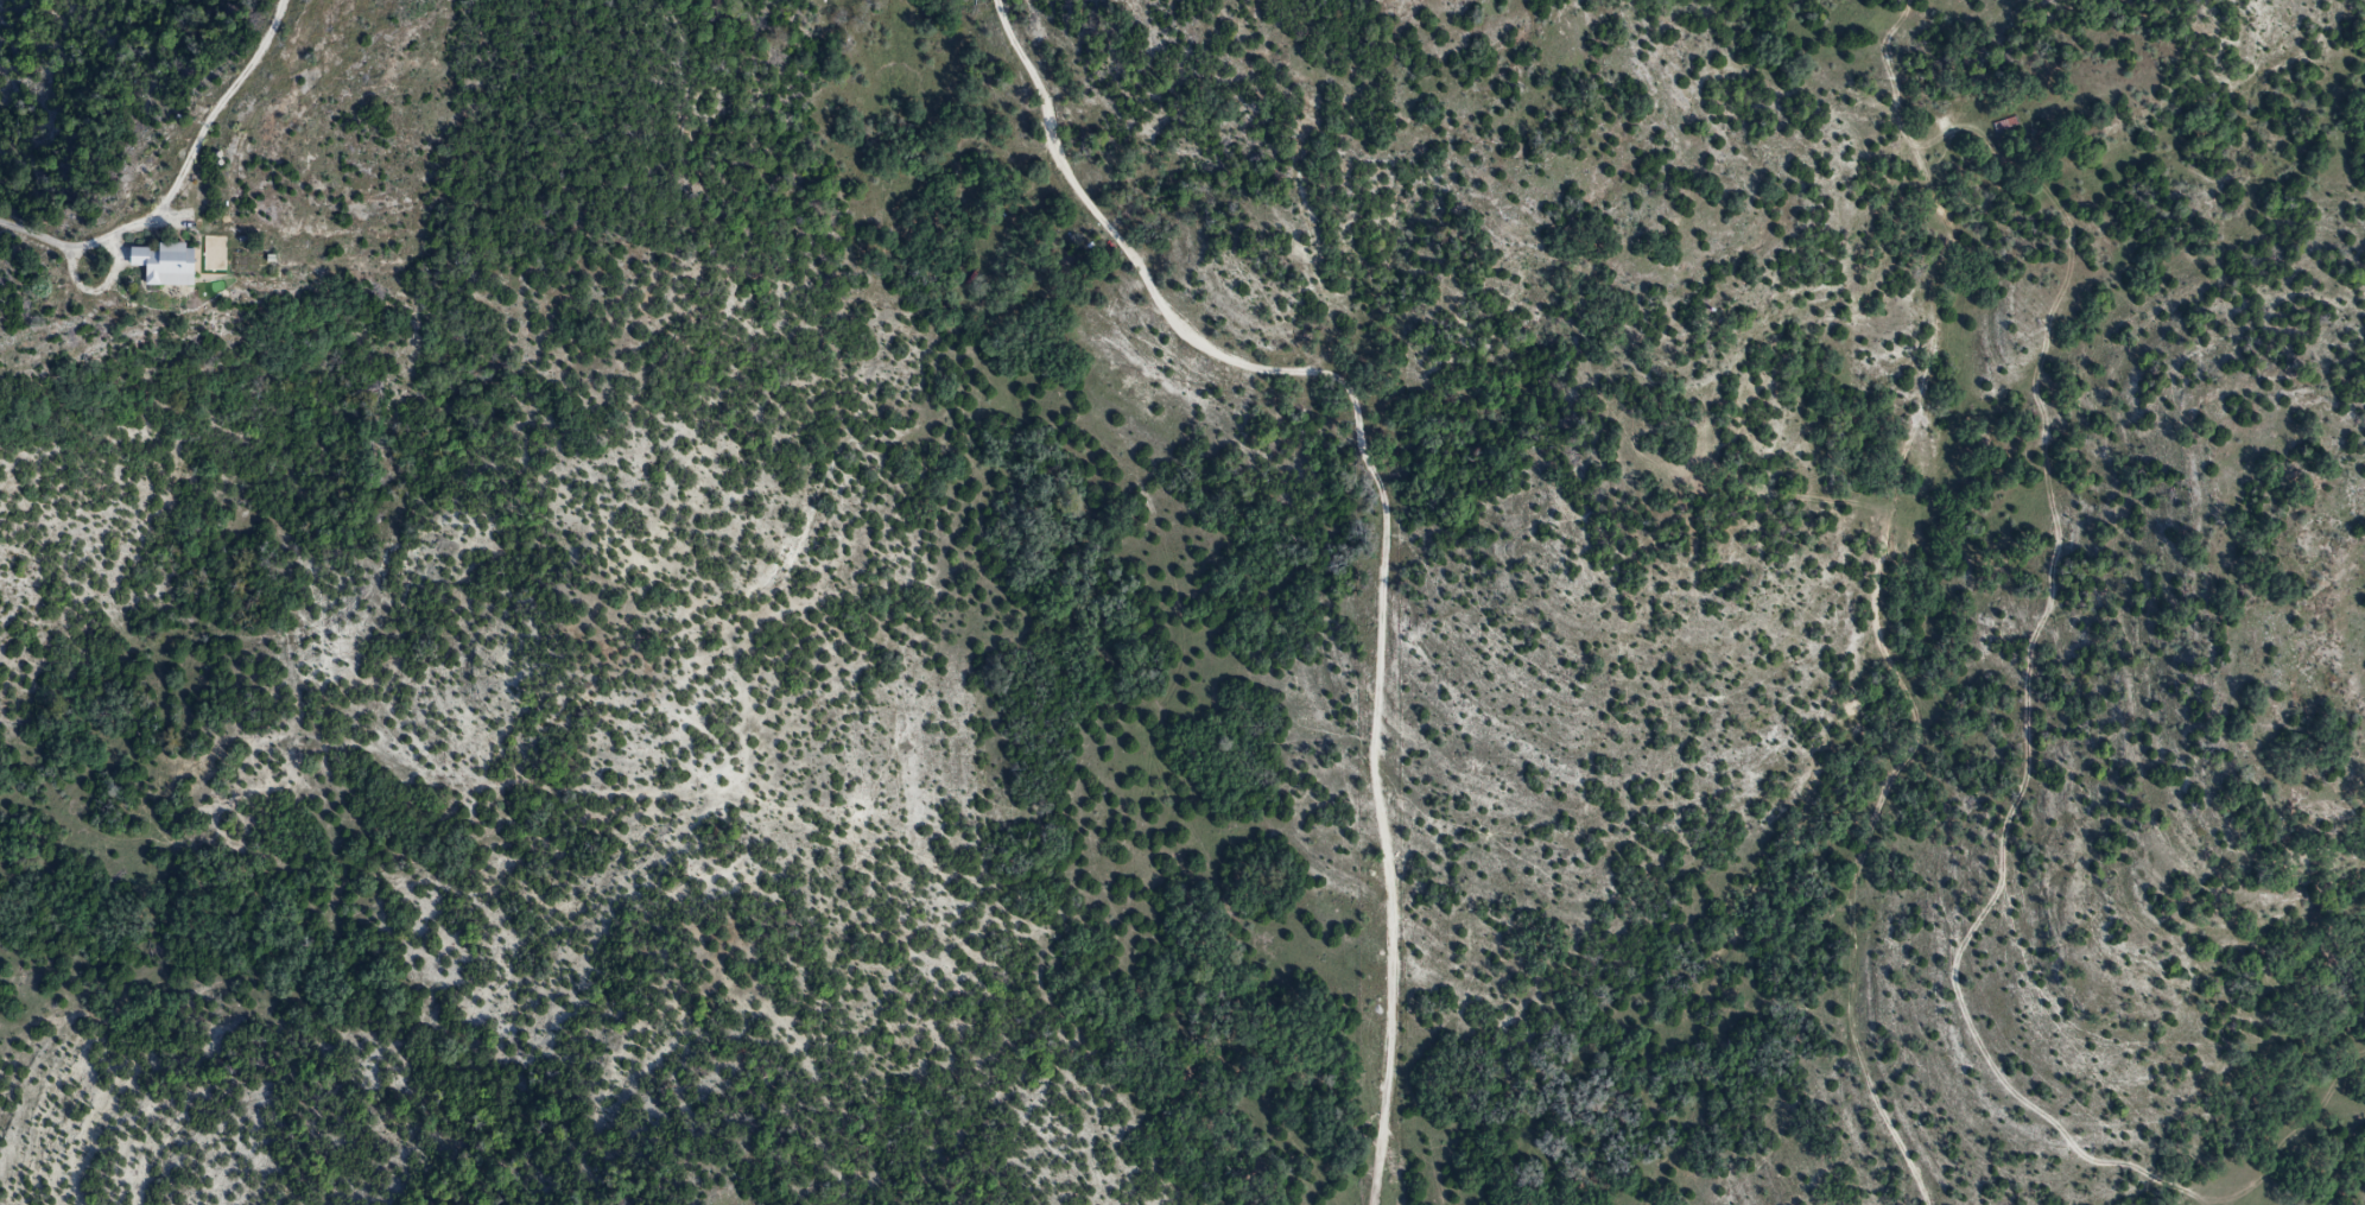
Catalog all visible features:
road: (178, 180)
building: (164, 266)
road: (1388, 510)

